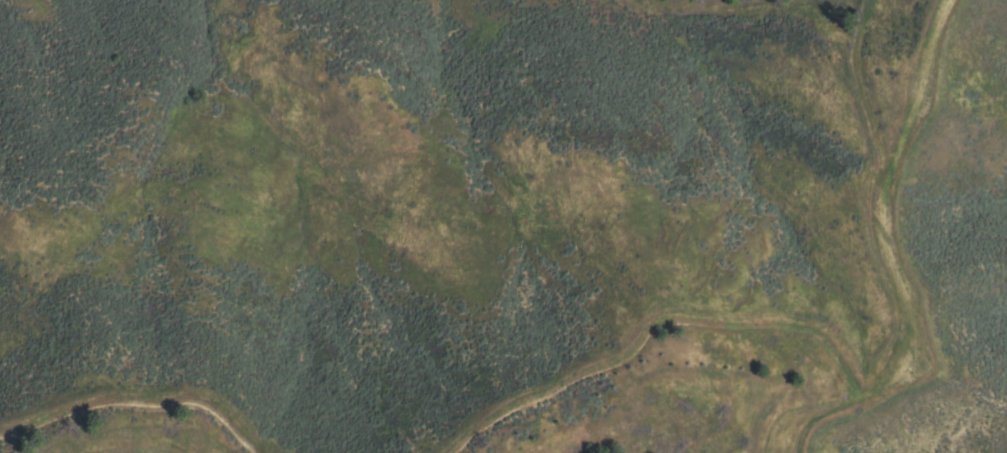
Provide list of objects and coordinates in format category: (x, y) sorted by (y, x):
road: (900, 259)
park: (580, 294)

